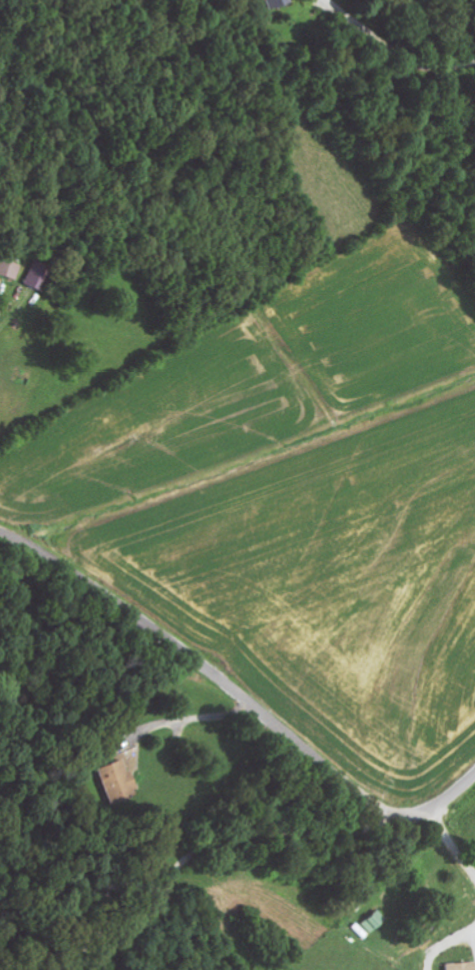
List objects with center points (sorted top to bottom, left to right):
building: (9, 269)
building: (37, 276)
road: (239, 698)
building: (118, 782)
road: (449, 911)
building: (374, 921)
building: (461, 966)

